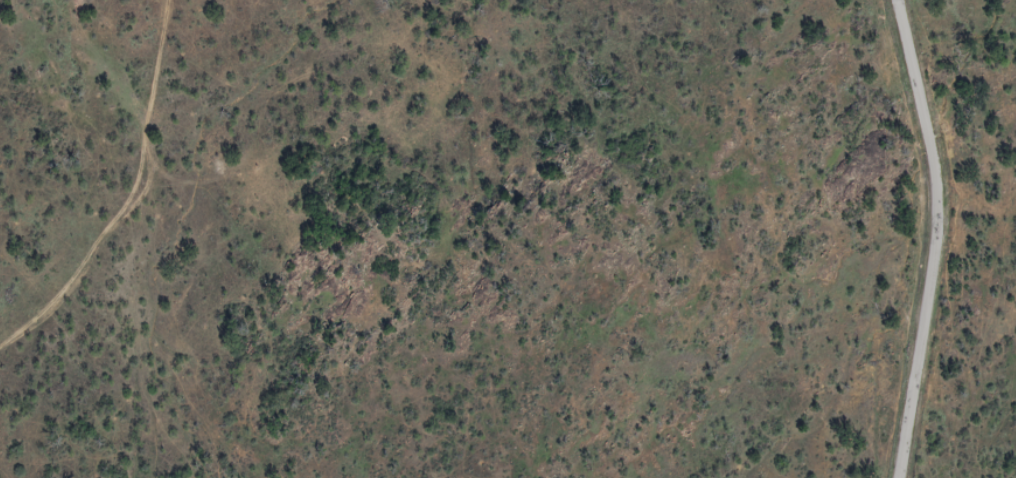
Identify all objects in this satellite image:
road: (936, 237)

